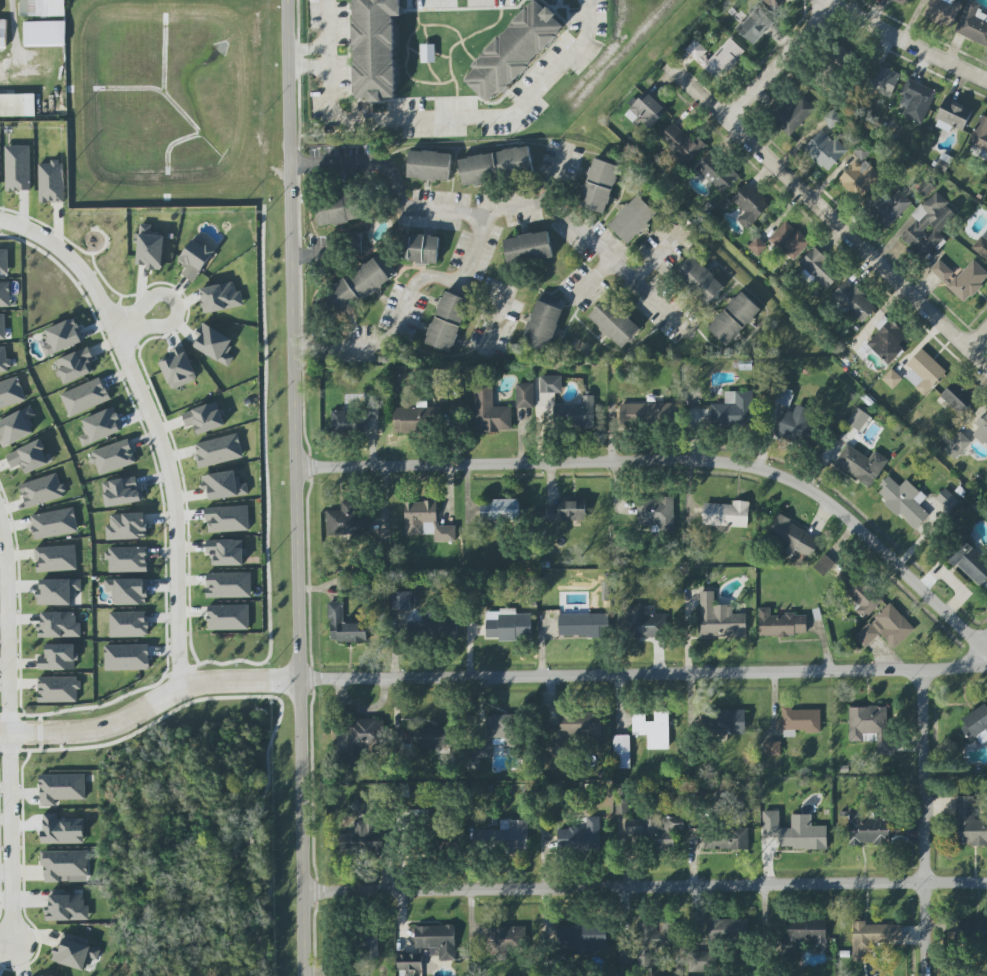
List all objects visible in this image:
building: (900, 2)
building: (42, 8)
building: (943, 11)
road: (840, 13)
road: (13, 23)
building: (973, 23)
building: (754, 25)
building: (3, 33)
building: (43, 35)
building: (375, 48)
building: (514, 51)
building: (426, 54)
road: (326, 55)
building: (840, 56)
building: (717, 58)
building: (884, 80)
building: (916, 100)
building: (17, 106)
building: (646, 110)
building: (794, 115)
building: (953, 116)
road: (434, 117)
building: (980, 134)
building: (682, 144)
building: (825, 150)
building: (861, 152)
building: (515, 162)
building: (429, 166)
building: (17, 168)
building: (478, 170)
building: (716, 172)
building: (860, 178)
building: (51, 182)
building: (599, 185)
road: (535, 205)
building: (750, 205)
building: (887, 207)
building: (338, 209)
road: (827, 216)
building: (634, 219)
building: (928, 225)
building: (789, 240)
road: (475, 246)
building: (758, 246)
building: (982, 246)
building: (149, 248)
building: (420, 248)
building: (528, 248)
building: (195, 258)
road: (611, 261)
building: (4, 262)
building: (820, 269)
road: (593, 276)
building: (961, 278)
building: (699, 280)
building: (361, 284)
building: (5, 294)
building: (221, 297)
road: (658, 299)
building: (854, 301)
building: (734, 319)
building: (543, 321)
building: (616, 321)
road: (137, 322)
building: (449, 322)
building: (2, 327)
building: (60, 337)
road: (977, 338)
building: (887, 340)
building: (214, 344)
building: (4, 360)
building: (745, 363)
building: (75, 365)
building: (179, 368)
building: (924, 372)
building: (892, 378)
building: (551, 384)
building: (11, 392)
building: (524, 395)
building: (85, 397)
building: (784, 397)
building: (958, 397)
building: (733, 410)
building: (370, 411)
building: (490, 412)
building: (651, 414)
building: (415, 417)
building: (204, 418)
building: (858, 419)
building: (344, 422)
building: (796, 424)
building: (100, 426)
road: (152, 426)
building: (16, 427)
building: (982, 429)
building: (957, 445)
building: (218, 450)
building: (30, 457)
building: (113, 457)
road: (673, 462)
building: (861, 465)
road: (265, 478)
building: (223, 485)
road: (296, 488)
building: (42, 490)
building: (122, 491)
building: (947, 500)
building: (904, 501)
building: (499, 510)
building: (567, 511)
building: (656, 513)
building: (726, 514)
building: (228, 519)
building: (345, 521)
building: (426, 521)
building: (54, 523)
building: (127, 527)
building: (793, 538)
building: (226, 552)
building: (56, 558)
building: (127, 559)
building: (970, 562)
building: (824, 564)
building: (229, 585)
building: (57, 591)
building: (128, 591)
building: (860, 594)
building: (597, 599)
building: (401, 600)
building: (228, 617)
building: (719, 618)
building: (648, 623)
building: (128, 624)
building: (781, 624)
building: (59, 625)
building: (508, 625)
building: (583, 625)
building: (343, 626)
building: (886, 628)
building: (59, 657)
building: (127, 657)
road: (962, 666)
road: (457, 677)
building: (58, 689)
road: (278, 702)
building: (729, 721)
building: (800, 721)
building: (580, 723)
building: (976, 726)
building: (871, 727)
building: (653, 729)
road: (9, 735)
building: (364, 738)
building: (429, 738)
road: (39, 742)
building: (773, 748)
building: (621, 751)
building: (61, 788)
building: (622, 800)
road: (928, 822)
building: (969, 823)
building: (866, 829)
building: (62, 830)
building: (654, 830)
building: (795, 831)
building: (581, 835)
building: (504, 836)
building: (362, 839)
building: (726, 839)
building: (65, 866)
road: (645, 885)
building: (66, 908)
building: (973, 930)
building: (807, 932)
building: (874, 936)
building: (506, 939)
building: (650, 941)
building: (372, 943)
building: (430, 945)
building: (712, 945)
building: (76, 954)
building: (346, 975)

